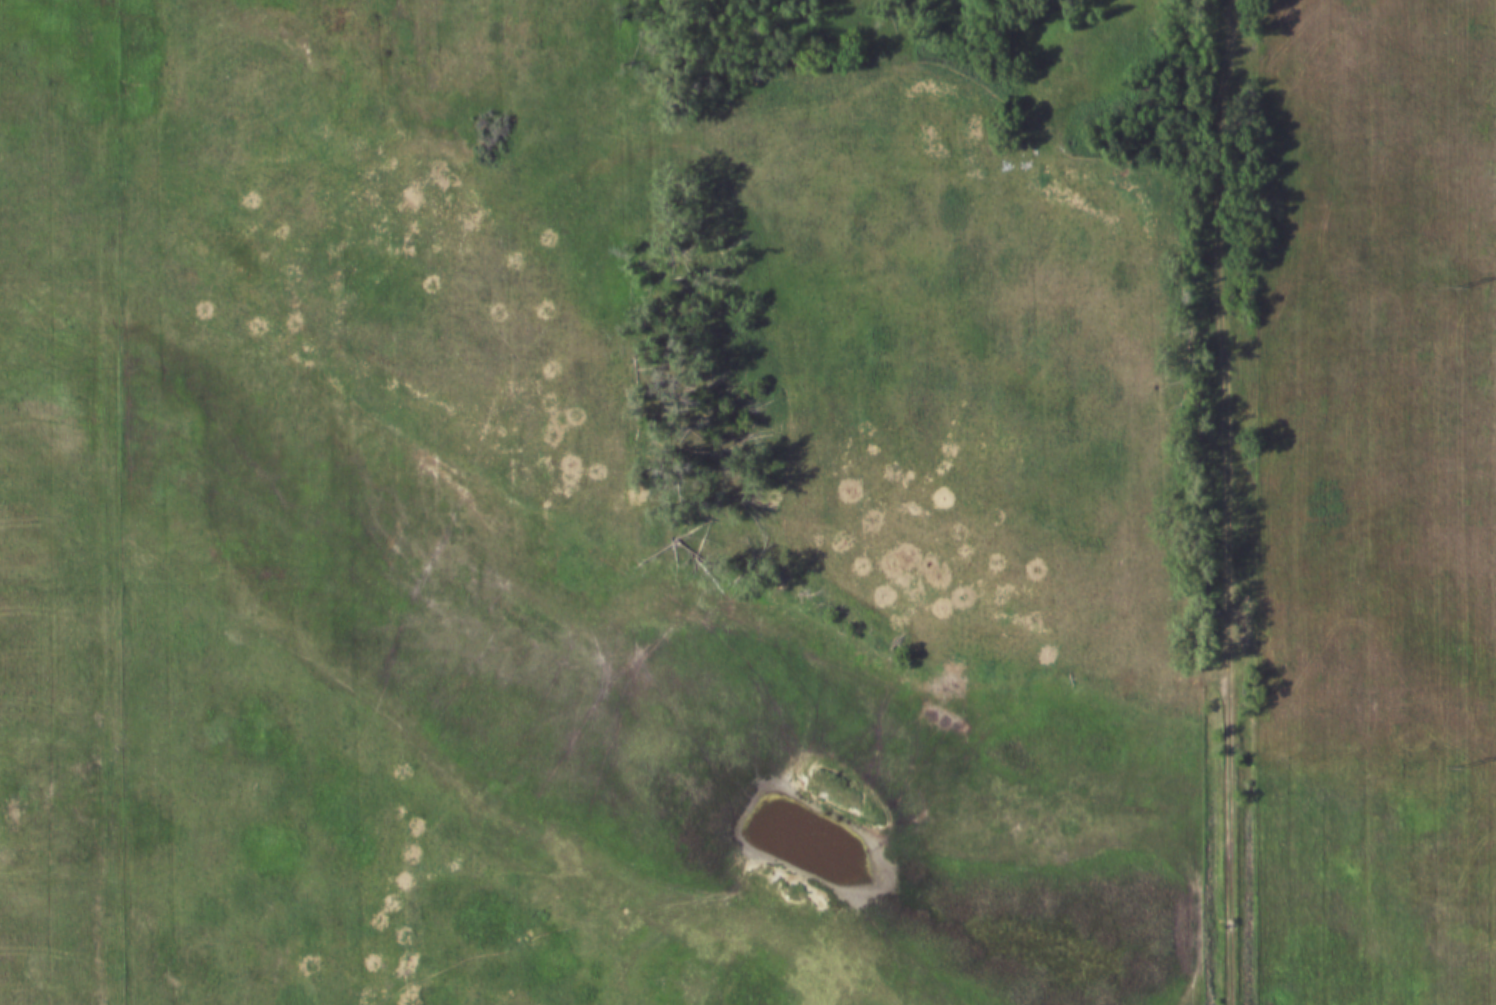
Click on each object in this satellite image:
power tower: (1458, 285)
road: (1223, 502)
power tower: (1458, 766)

